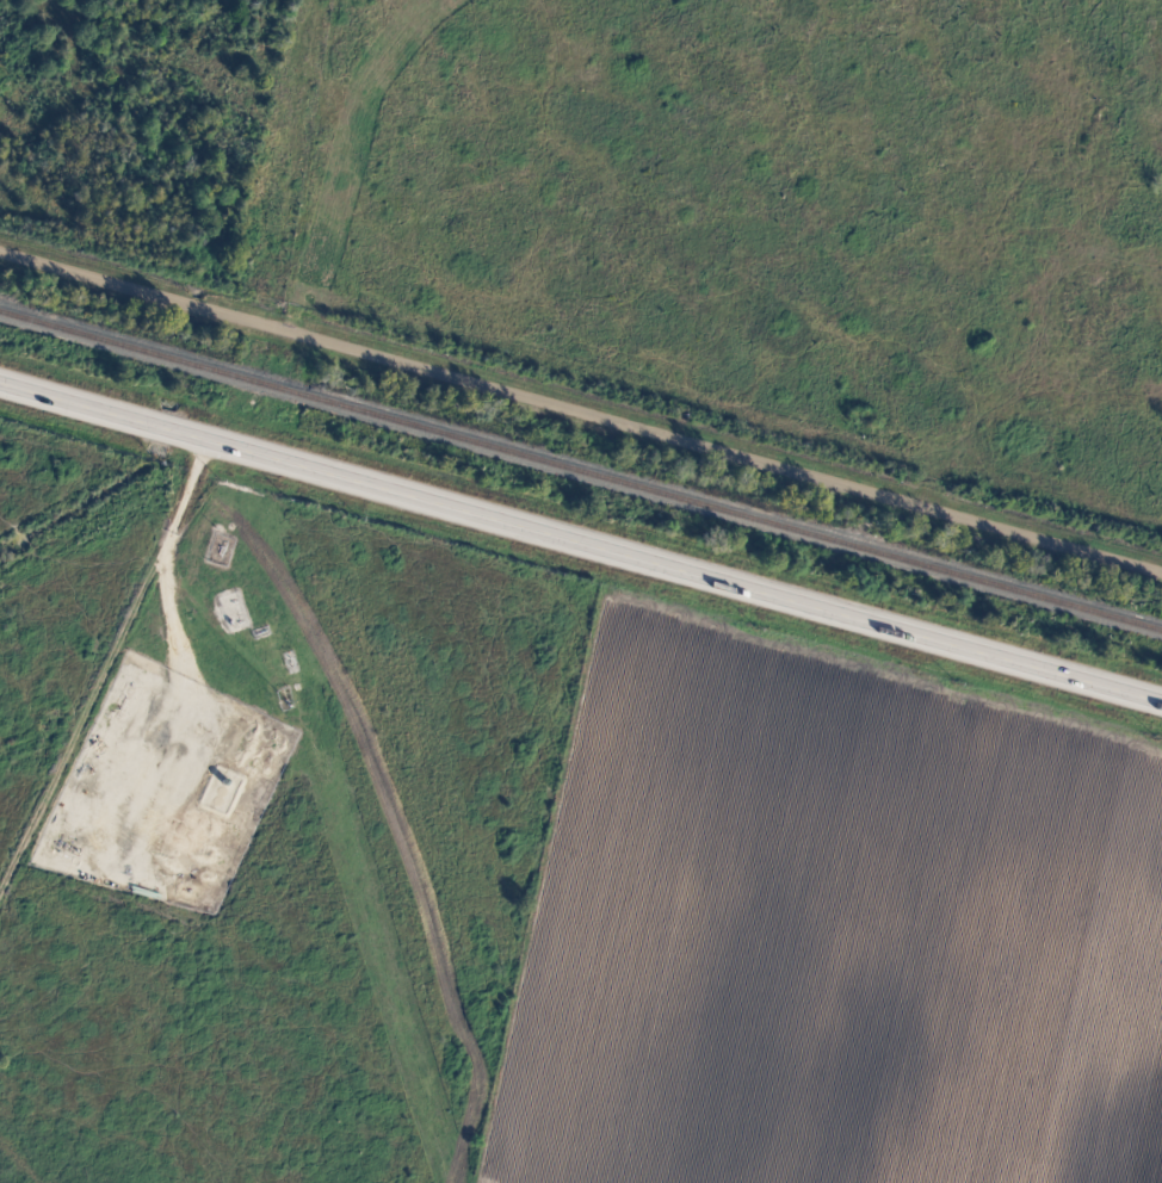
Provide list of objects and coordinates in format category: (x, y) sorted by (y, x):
road: (581, 408)
railway: (581, 471)
road: (581, 539)
road: (225, 623)
road: (110, 674)
road: (43, 743)

